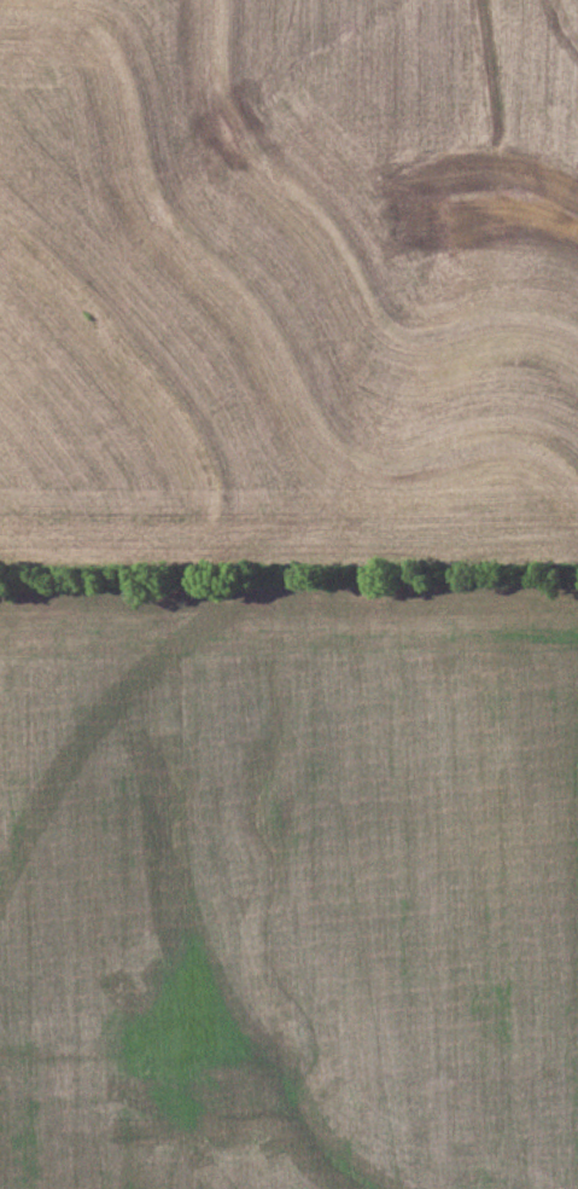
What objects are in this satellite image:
crop: (288, 872)

